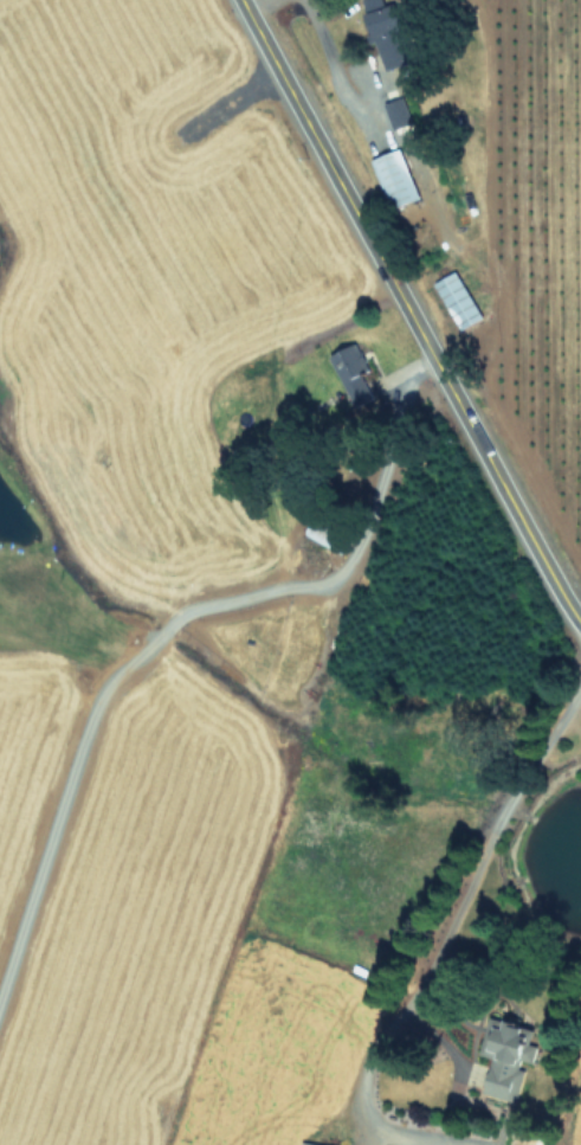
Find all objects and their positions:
road: (250, 2)
building: (389, 32)
road: (331, 63)
building: (398, 111)
building: (398, 176)
crop: (475, 198)
building: (459, 298)
road: (407, 314)
building: (355, 372)
road: (170, 623)
crop: (250, 654)
road: (464, 882)
building: (509, 1055)
road: (362, 1099)

